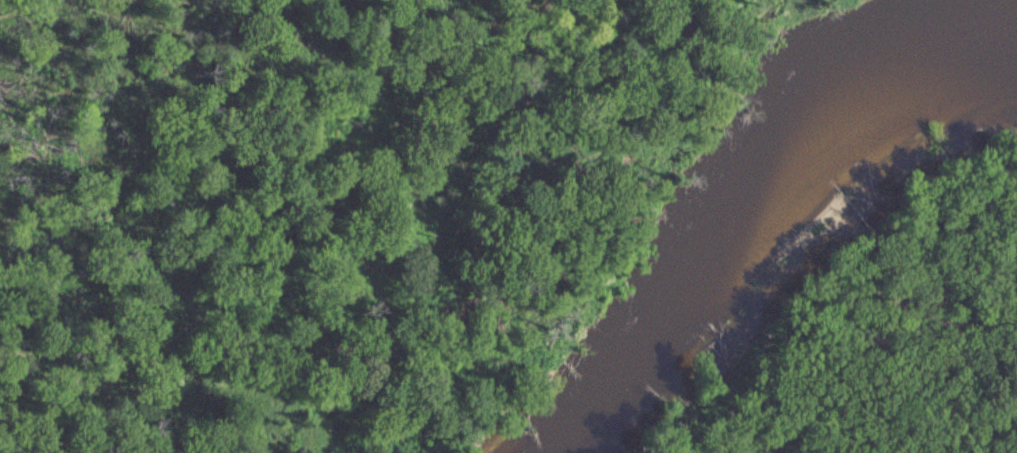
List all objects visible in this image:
river: (771, 219)

